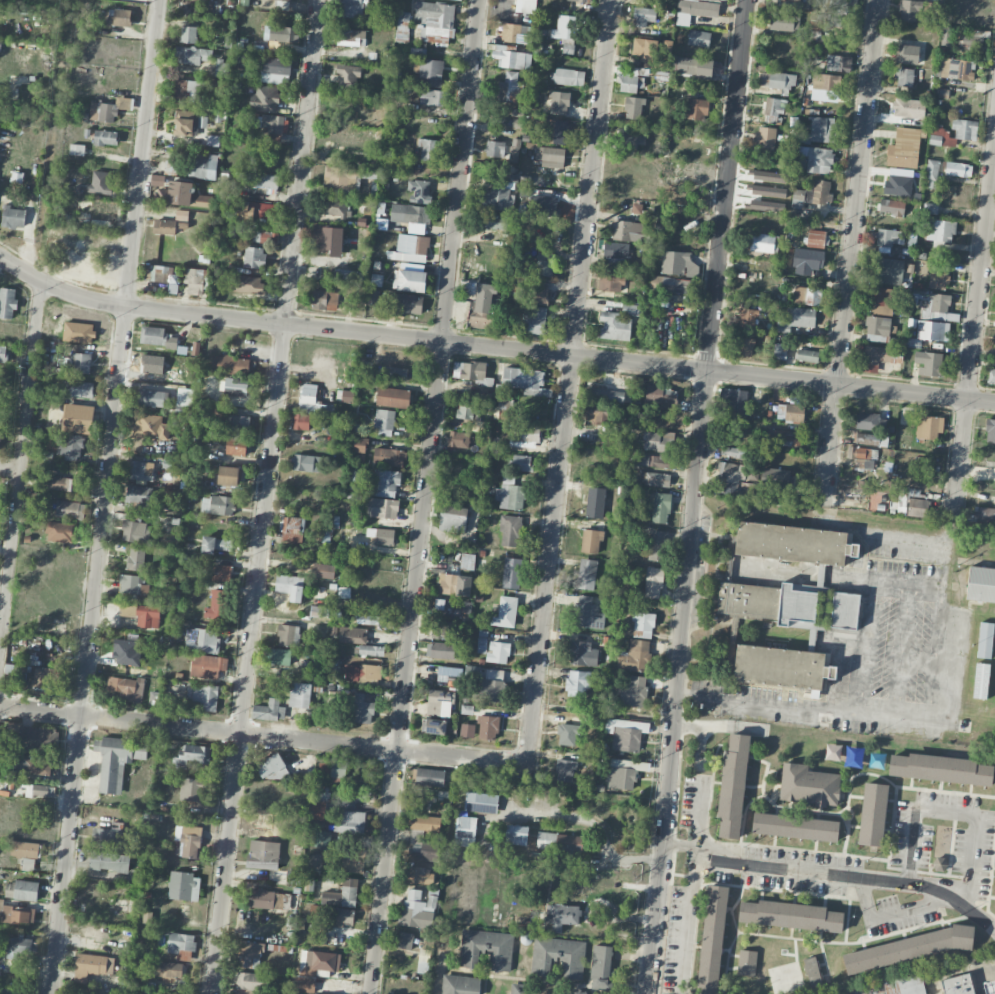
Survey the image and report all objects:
building: (283, 0)
building: (458, 0)
building: (244, 2)
building: (528, 6)
building: (353, 8)
building: (696, 9)
building: (840, 10)
building: (909, 10)
building: (643, 16)
building: (119, 17)
building: (435, 21)
building: (784, 22)
building: (403, 25)
building: (565, 29)
building: (816, 31)
building: (280, 33)
building: (512, 33)
building: (188, 34)
building: (351, 37)
building: (699, 38)
building: (972, 40)
building: (666, 47)
building: (646, 51)
building: (908, 54)
building: (192, 55)
building: (512, 59)
building: (838, 63)
building: (694, 66)
building: (221, 68)
building: (955, 68)
building: (274, 70)
building: (430, 72)
building: (569, 76)
building: (348, 77)
building: (904, 77)
building: (628, 81)
building: (826, 82)
building: (776, 83)
building: (511, 87)
building: (188, 91)
building: (433, 97)
building: (264, 99)
building: (559, 103)
building: (774, 106)
building: (634, 108)
building: (697, 108)
building: (908, 108)
building: (108, 109)
building: (964, 129)
building: (821, 130)
building: (554, 131)
building: (941, 136)
building: (106, 137)
building: (765, 137)
building: (632, 139)
building: (427, 148)
building: (494, 148)
building: (904, 148)
building: (77, 149)
building: (514, 150)
building: (549, 156)
building: (818, 159)
building: (171, 167)
building: (203, 167)
building: (932, 169)
building: (958, 169)
building: (16, 177)
building: (340, 178)
building: (157, 180)
building: (258, 180)
building: (100, 182)
building: (419, 190)
building: (180, 195)
building: (497, 198)
building: (891, 206)
building: (335, 207)
building: (930, 208)
building: (101, 210)
building: (257, 211)
building: (182, 214)
building: (411, 216)
building: (13, 217)
road: (31, 221)
building: (495, 221)
building: (164, 226)
building: (627, 230)
building: (940, 231)
building: (268, 237)
building: (889, 237)
building: (815, 238)
building: (327, 240)
building: (762, 242)
building: (410, 248)
road: (850, 253)
building: (615, 254)
building: (254, 257)
building: (544, 263)
building: (678, 263)
building: (808, 266)
building: (886, 271)
building: (159, 273)
building: (345, 276)
building: (937, 276)
building: (194, 280)
building: (410, 280)
building: (611, 281)
building: (247, 284)
building: (670, 284)
building: (515, 286)
building: (538, 295)
building: (807, 295)
building: (373, 297)
building: (484, 297)
building: (321, 299)
building: (880, 300)
building: (7, 302)
building: (406, 303)
building: (938, 308)
building: (630, 309)
building: (749, 317)
building: (802, 317)
building: (533, 319)
building: (613, 326)
building: (877, 328)
building: (932, 330)
road: (973, 332)
building: (156, 337)
building: (745, 346)
road: (492, 347)
building: (3, 353)
building: (807, 355)
building: (879, 357)
building: (79, 362)
building: (930, 363)
building: (230, 365)
building: (469, 370)
building: (394, 372)
building: (991, 376)
building: (526, 381)
road: (569, 382)
building: (77, 388)
building: (605, 395)
building: (184, 396)
building: (348, 396)
building: (150, 397)
building: (392, 397)
building: (662, 397)
building: (309, 398)
building: (736, 401)
building: (505, 408)
building: (468, 410)
building: (790, 412)
building: (596, 416)
building: (78, 418)
building: (868, 420)
building: (301, 421)
building: (384, 422)
building: (233, 423)
building: (151, 427)
building: (928, 427)
building: (990, 431)
building: (524, 432)
building: (784, 437)
building: (458, 439)
building: (871, 439)
building: (658, 441)
building: (359, 444)
building: (236, 445)
building: (70, 446)
road: (20, 455)
building: (389, 456)
building: (861, 456)
building: (656, 460)
building: (520, 462)
building: (308, 463)
road: (9, 466)
building: (139, 471)
building: (730, 471)
building: (229, 475)
building: (776, 478)
building: (656, 479)
building: (65, 483)
building: (386, 483)
building: (865, 484)
building: (510, 493)
road: (104, 496)
road: (695, 496)
road: (265, 497)
road: (425, 497)
building: (140, 498)
building: (595, 502)
building: (217, 505)
building: (917, 507)
building: (382, 508)
building: (661, 508)
building: (70, 509)
building: (984, 514)
building: (453, 518)
building: (291, 528)
building: (135, 529)
building: (510, 530)
building: (61, 532)
building: (382, 536)
building: (591, 541)
building: (794, 543)
building: (216, 544)
building: (657, 545)
building: (135, 559)
building: (467, 561)
building: (323, 570)
building: (511, 572)
building: (221, 573)
building: (586, 573)
building: (653, 582)
building: (447, 583)
building: (981, 584)
building: (463, 585)
building: (290, 586)
building: (132, 587)
building: (344, 592)
building: (769, 603)
building: (214, 605)
building: (440, 606)
building: (844, 610)
building: (319, 611)
building: (505, 612)
building: (588, 613)
building: (142, 614)
building: (369, 619)
building: (643, 624)
building: (440, 629)
building: (352, 634)
road: (868, 634)
road: (902, 634)
building: (288, 635)
building: (202, 640)
building: (985, 640)
building: (371, 650)
building: (440, 650)
building: (498, 652)
building: (582, 653)
building: (279, 656)
building: (635, 656)
building: (208, 666)
building: (782, 667)
building: (362, 672)
building: (47, 675)
building: (981, 680)
building: (578, 683)
building: (492, 686)
building: (125, 687)
building: (633, 690)
road: (689, 694)
building: (299, 695)
building: (206, 696)
building: (153, 698)
building: (439, 701)
building: (362, 708)
road: (930, 708)
building: (269, 710)
building: (434, 725)
building: (488, 727)
building: (467, 730)
building: (567, 734)
building: (626, 734)
road: (263, 737)
building: (37, 739)
building: (833, 753)
building: (193, 755)
building: (117, 760)
building: (32, 764)
building: (940, 767)
building: (272, 768)
building: (332, 769)
building: (564, 769)
building: (621, 775)
building: (430, 777)
building: (733, 785)
building: (808, 785)
building: (191, 789)
building: (43, 790)
building: (481, 802)
building: (318, 803)
road: (951, 811)
building: (873, 813)
building: (351, 822)
road: (595, 824)
building: (795, 826)
building: (465, 831)
building: (516, 834)
building: (106, 837)
building: (322, 838)
building: (416, 838)
building: (188, 840)
building: (559, 842)
road: (673, 843)
road: (689, 845)
building: (25, 853)
building: (263, 854)
building: (110, 861)
building: (313, 862)
building: (353, 862)
building: (939, 863)
road: (813, 872)
building: (419, 875)
building: (293, 877)
building: (184, 886)
building: (22, 890)
building: (344, 896)
building: (265, 899)
building: (184, 908)
building: (417, 909)
building: (17, 913)
building: (791, 914)
building: (337, 916)
building: (562, 916)
road: (688, 920)
building: (712, 938)
building: (405, 940)
building: (181, 945)
building: (17, 947)
building: (486, 948)
building: (908, 948)
building: (248, 954)
building: (558, 956)
building: (424, 961)
building: (747, 962)
building: (93, 966)
building: (601, 967)
building: (313, 969)
building: (167, 970)
building: (812, 971)
building: (251, 983)
building: (459, 984)
building: (905, 984)
building: (957, 984)
building: (990, 987)
building: (517, 988)
building: (8, 991)
building: (143, 991)
building: (311, 993)
building: (584, 993)

